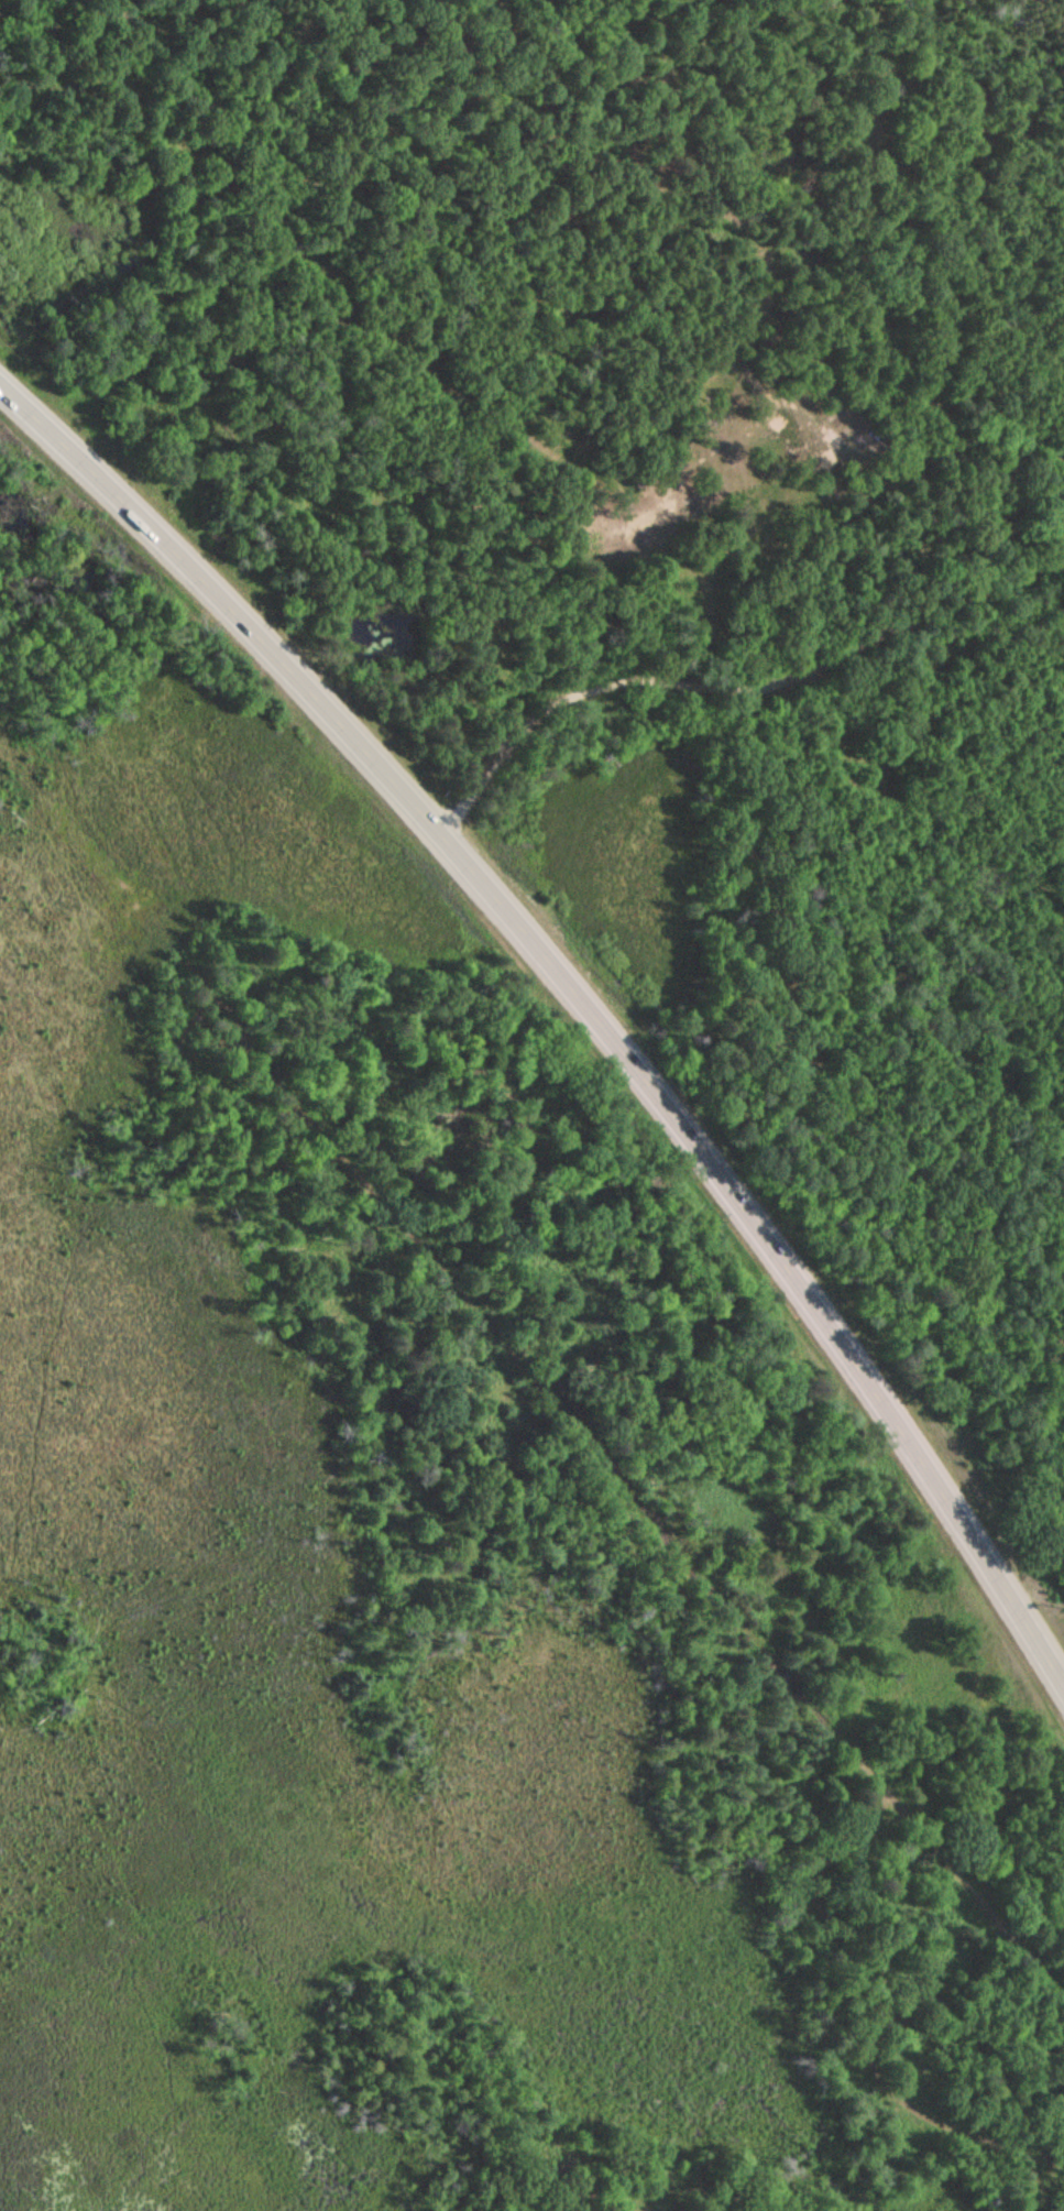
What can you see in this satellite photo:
road: (726, 685)
road: (577, 994)

